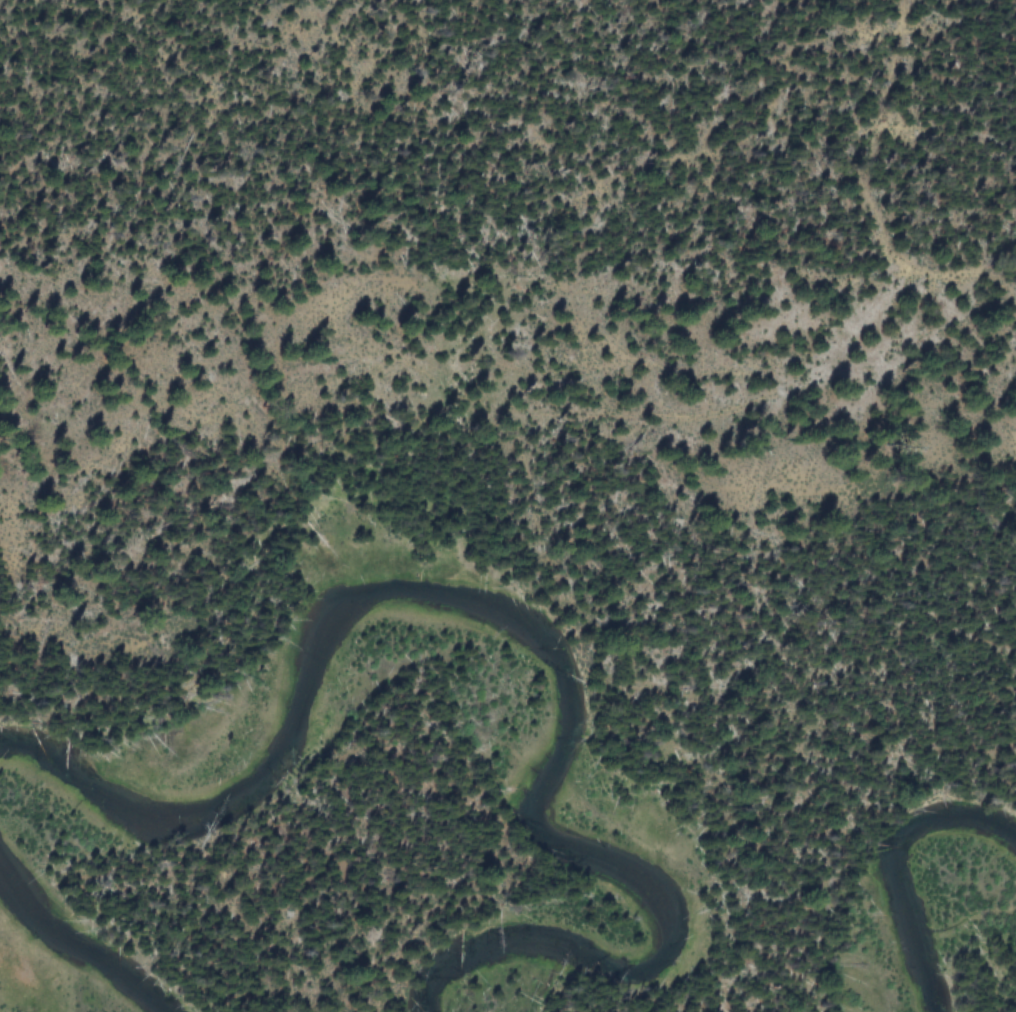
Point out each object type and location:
road: (866, 194)
river: (534, 646)
river: (895, 865)
river: (79, 943)

